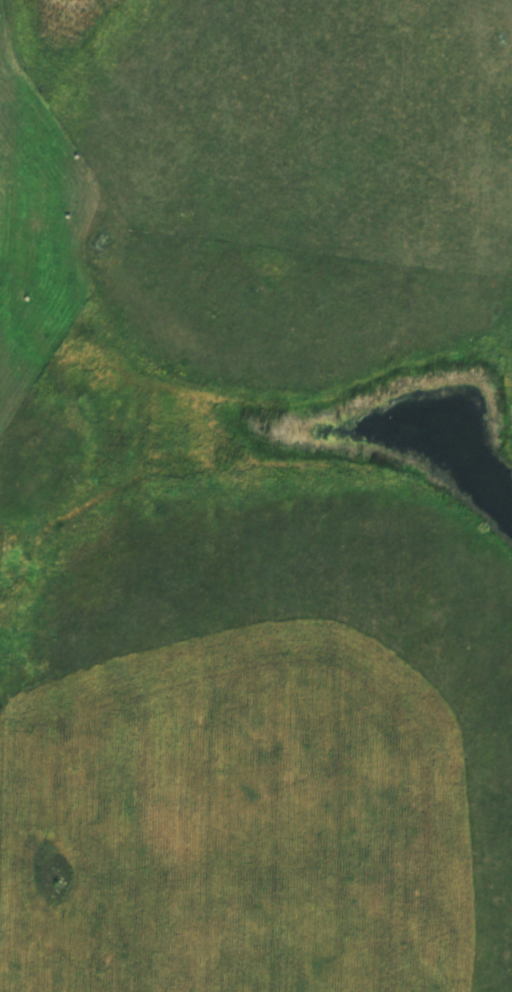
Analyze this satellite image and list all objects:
building: (403, 893)

